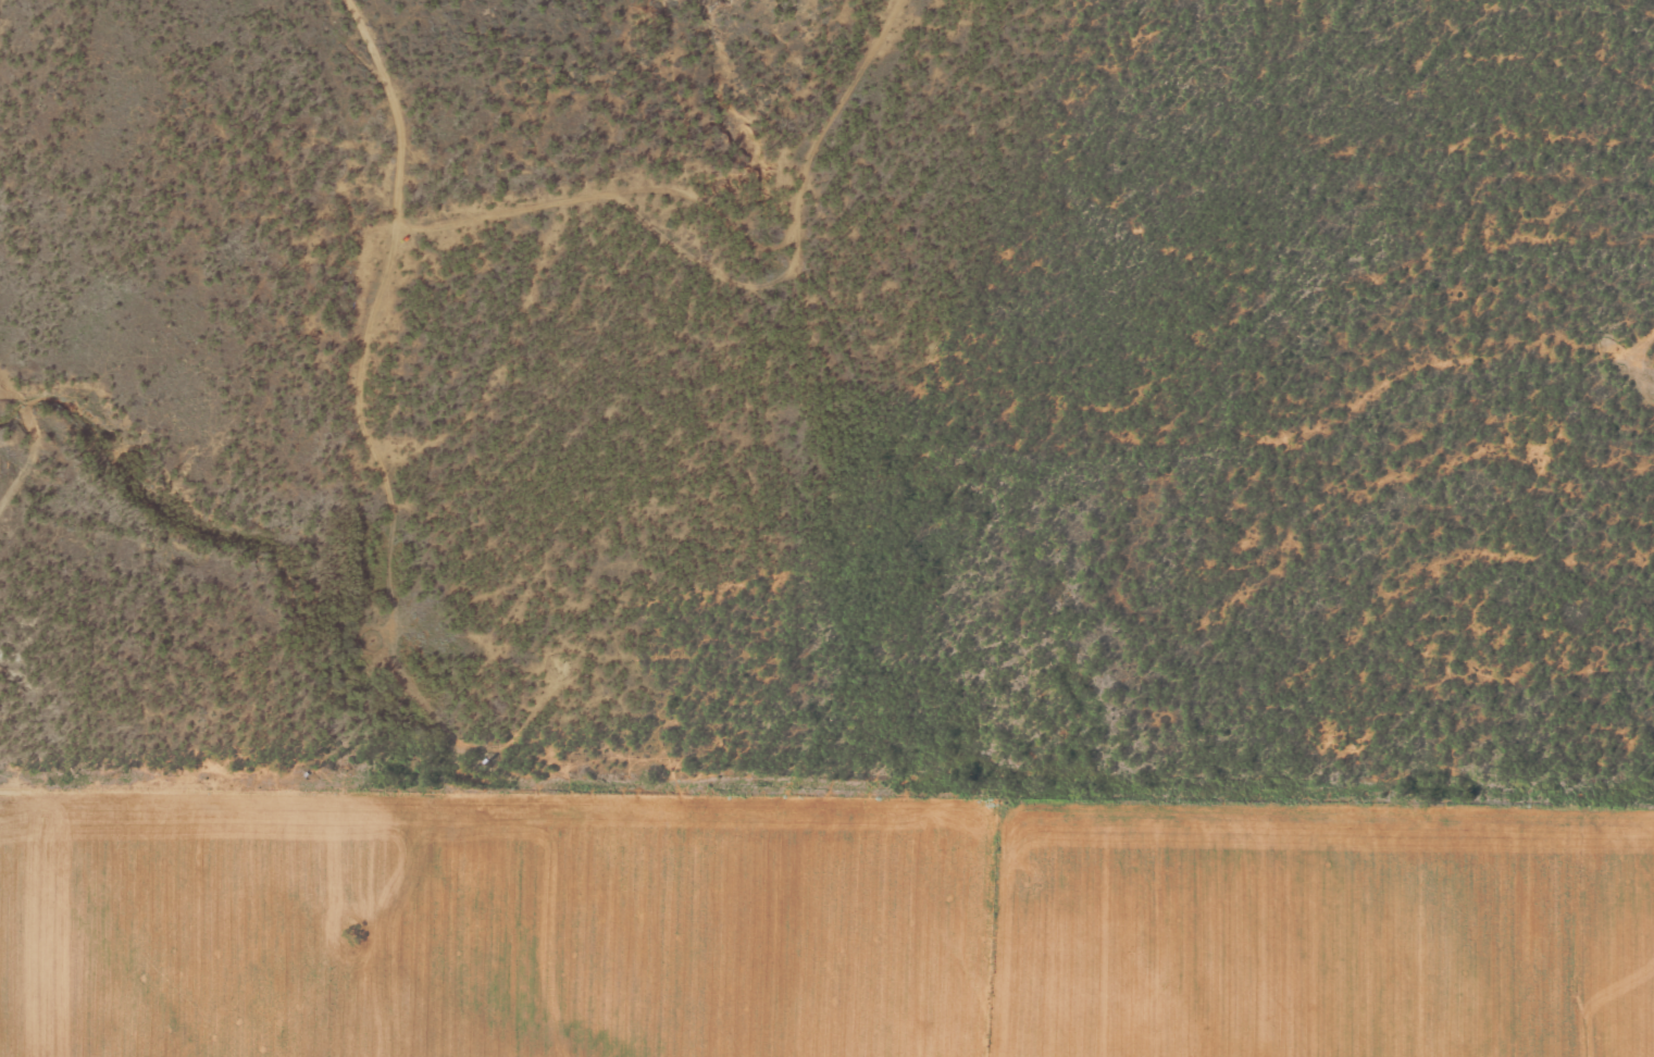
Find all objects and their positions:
road: (633, 175)

